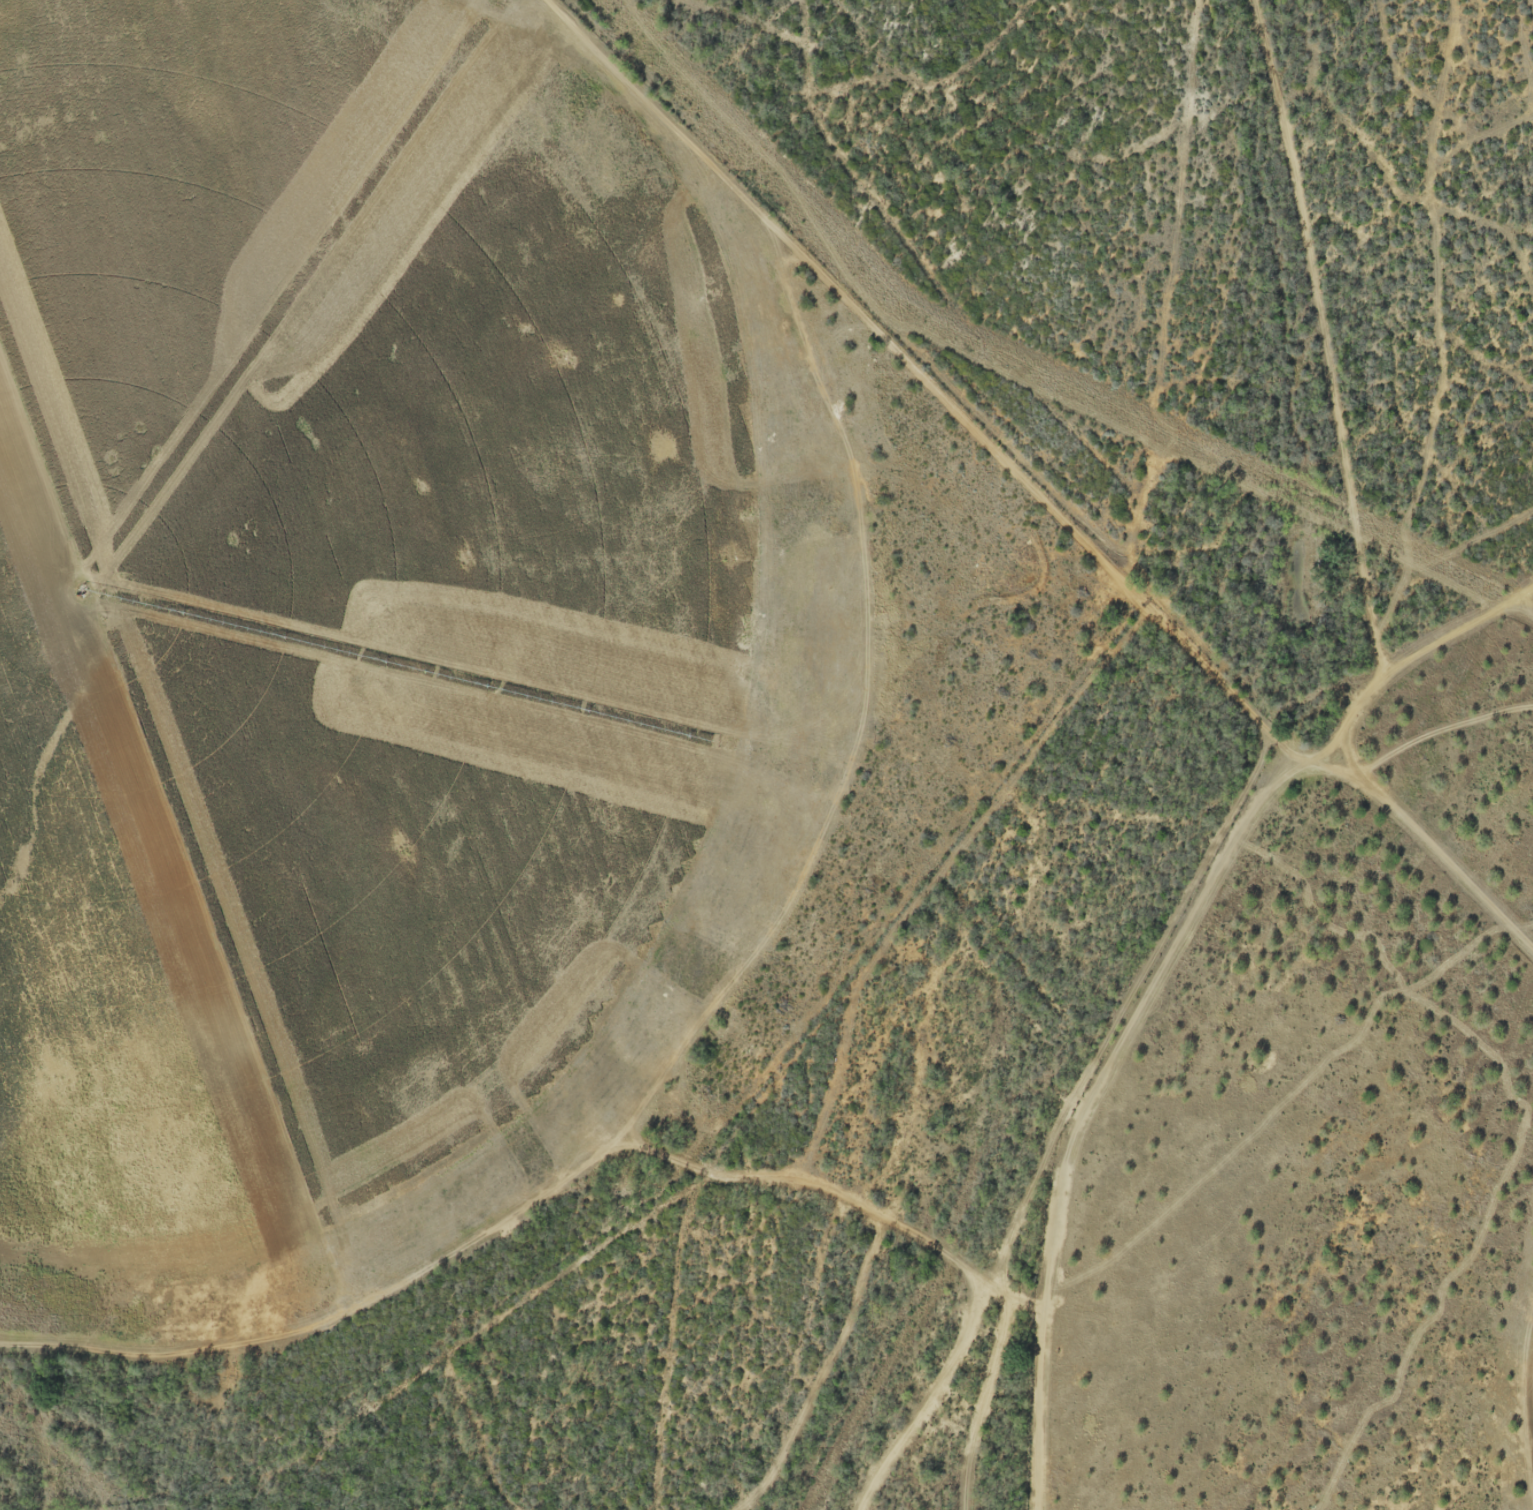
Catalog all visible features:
road: (1312, 262)
road: (1427, 475)
road: (595, 1187)

